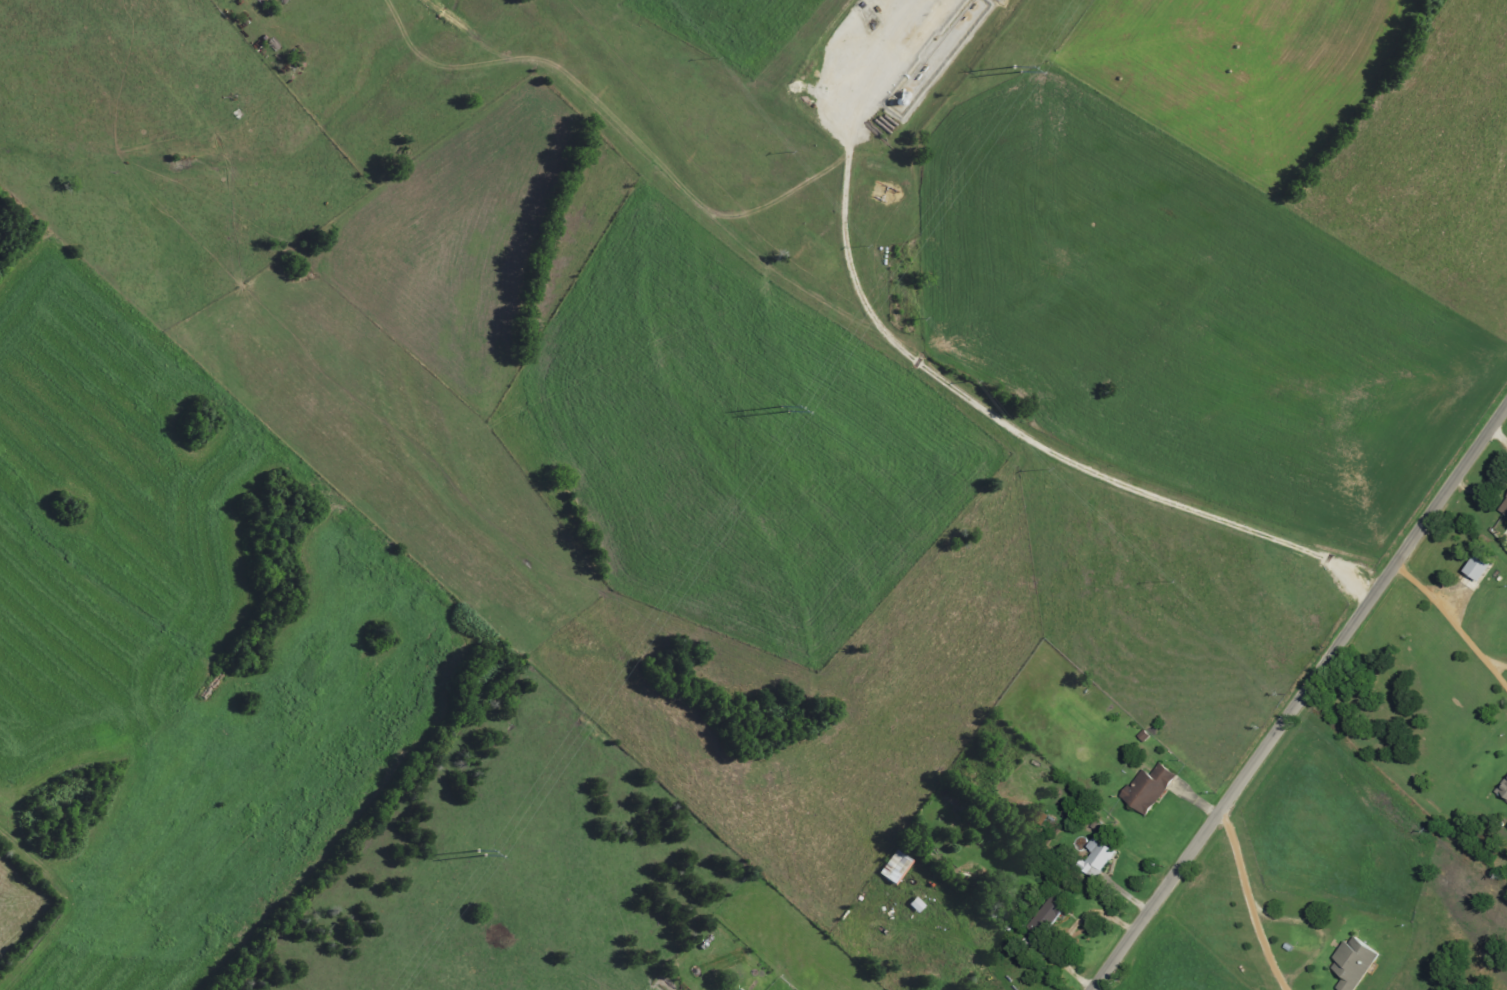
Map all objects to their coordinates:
power tower: (1015, 69)
road: (632, 145)
power tower: (783, 408)
road: (1017, 431)
building: (1504, 507)
building: (1474, 567)
road: (1453, 624)
road: (1300, 698)
building: (1151, 787)
building: (1504, 789)
power tower: (480, 852)
building: (1100, 857)
building: (897, 867)
road: (1244, 871)
building: (918, 905)
building: (1051, 914)
building: (1357, 962)

